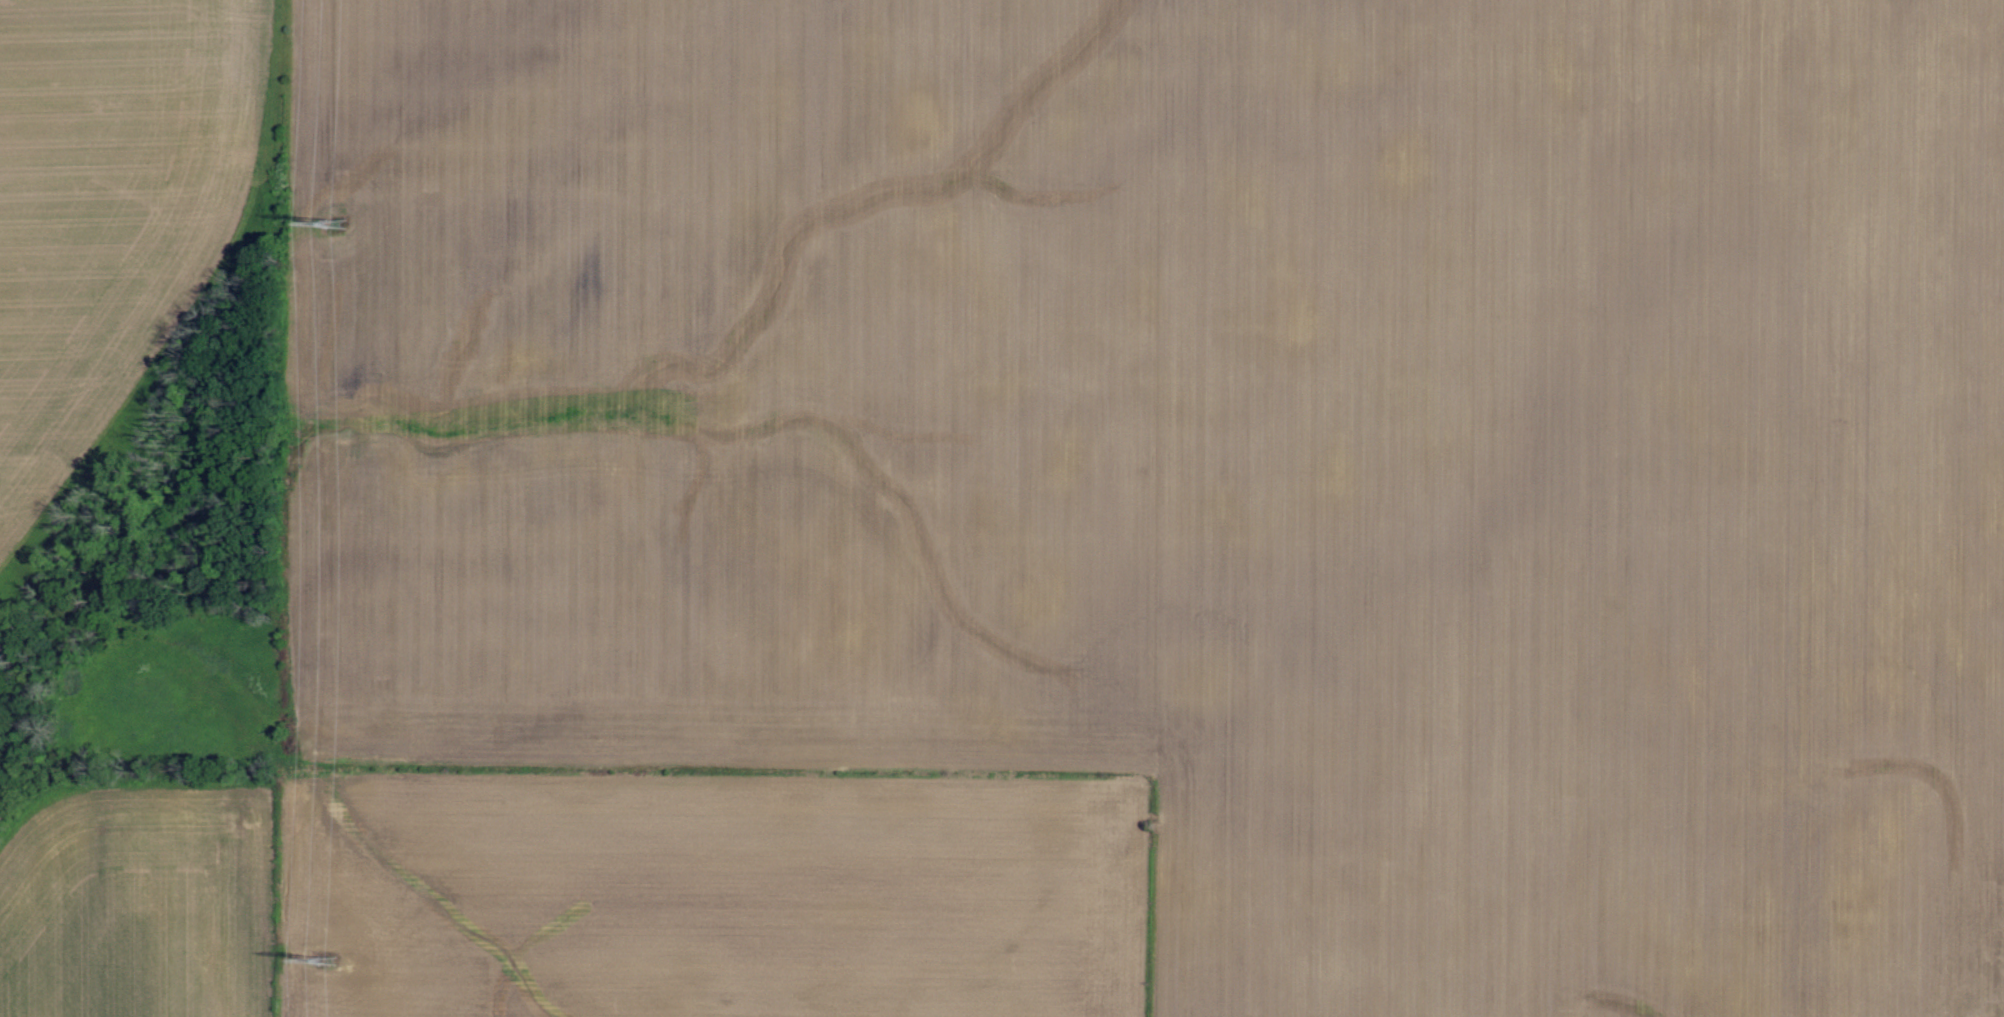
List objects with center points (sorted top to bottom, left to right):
power tower: (336, 226)
power tower: (327, 961)

